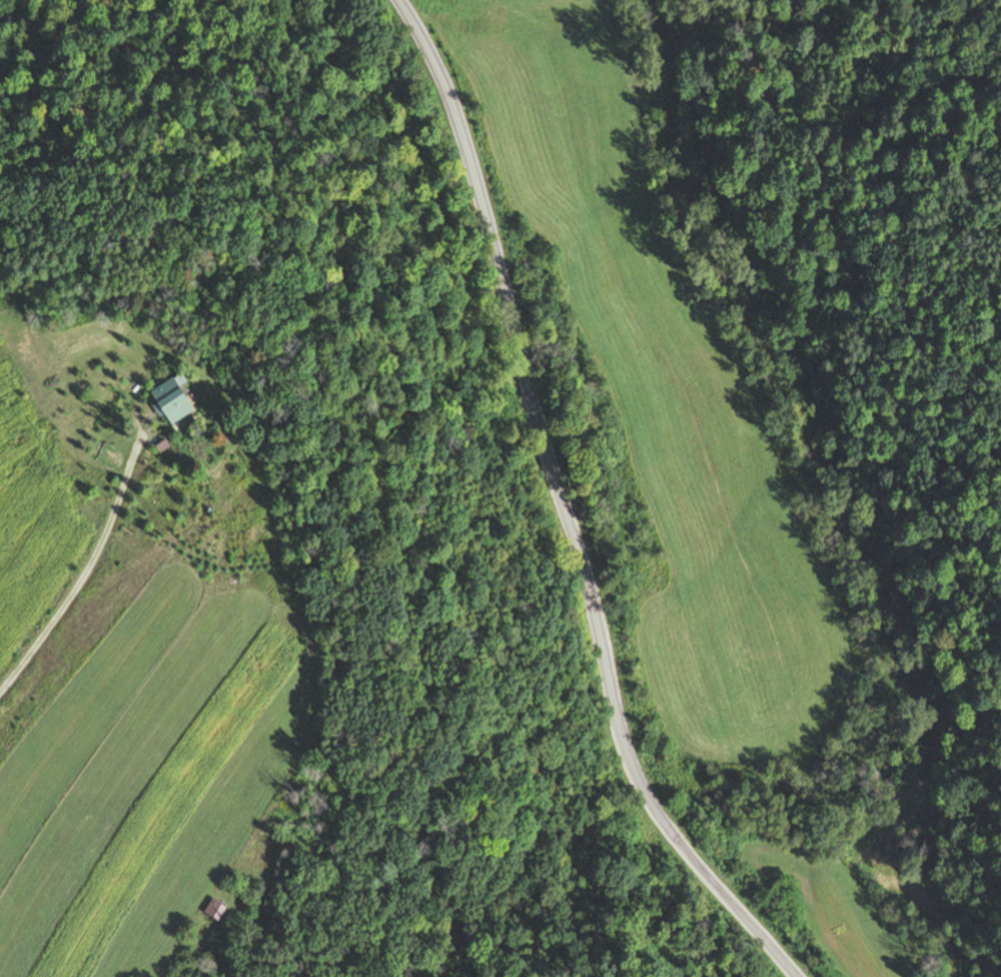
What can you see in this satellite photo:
building: (172, 401)
road: (565, 505)
road: (78, 573)
building: (215, 910)

